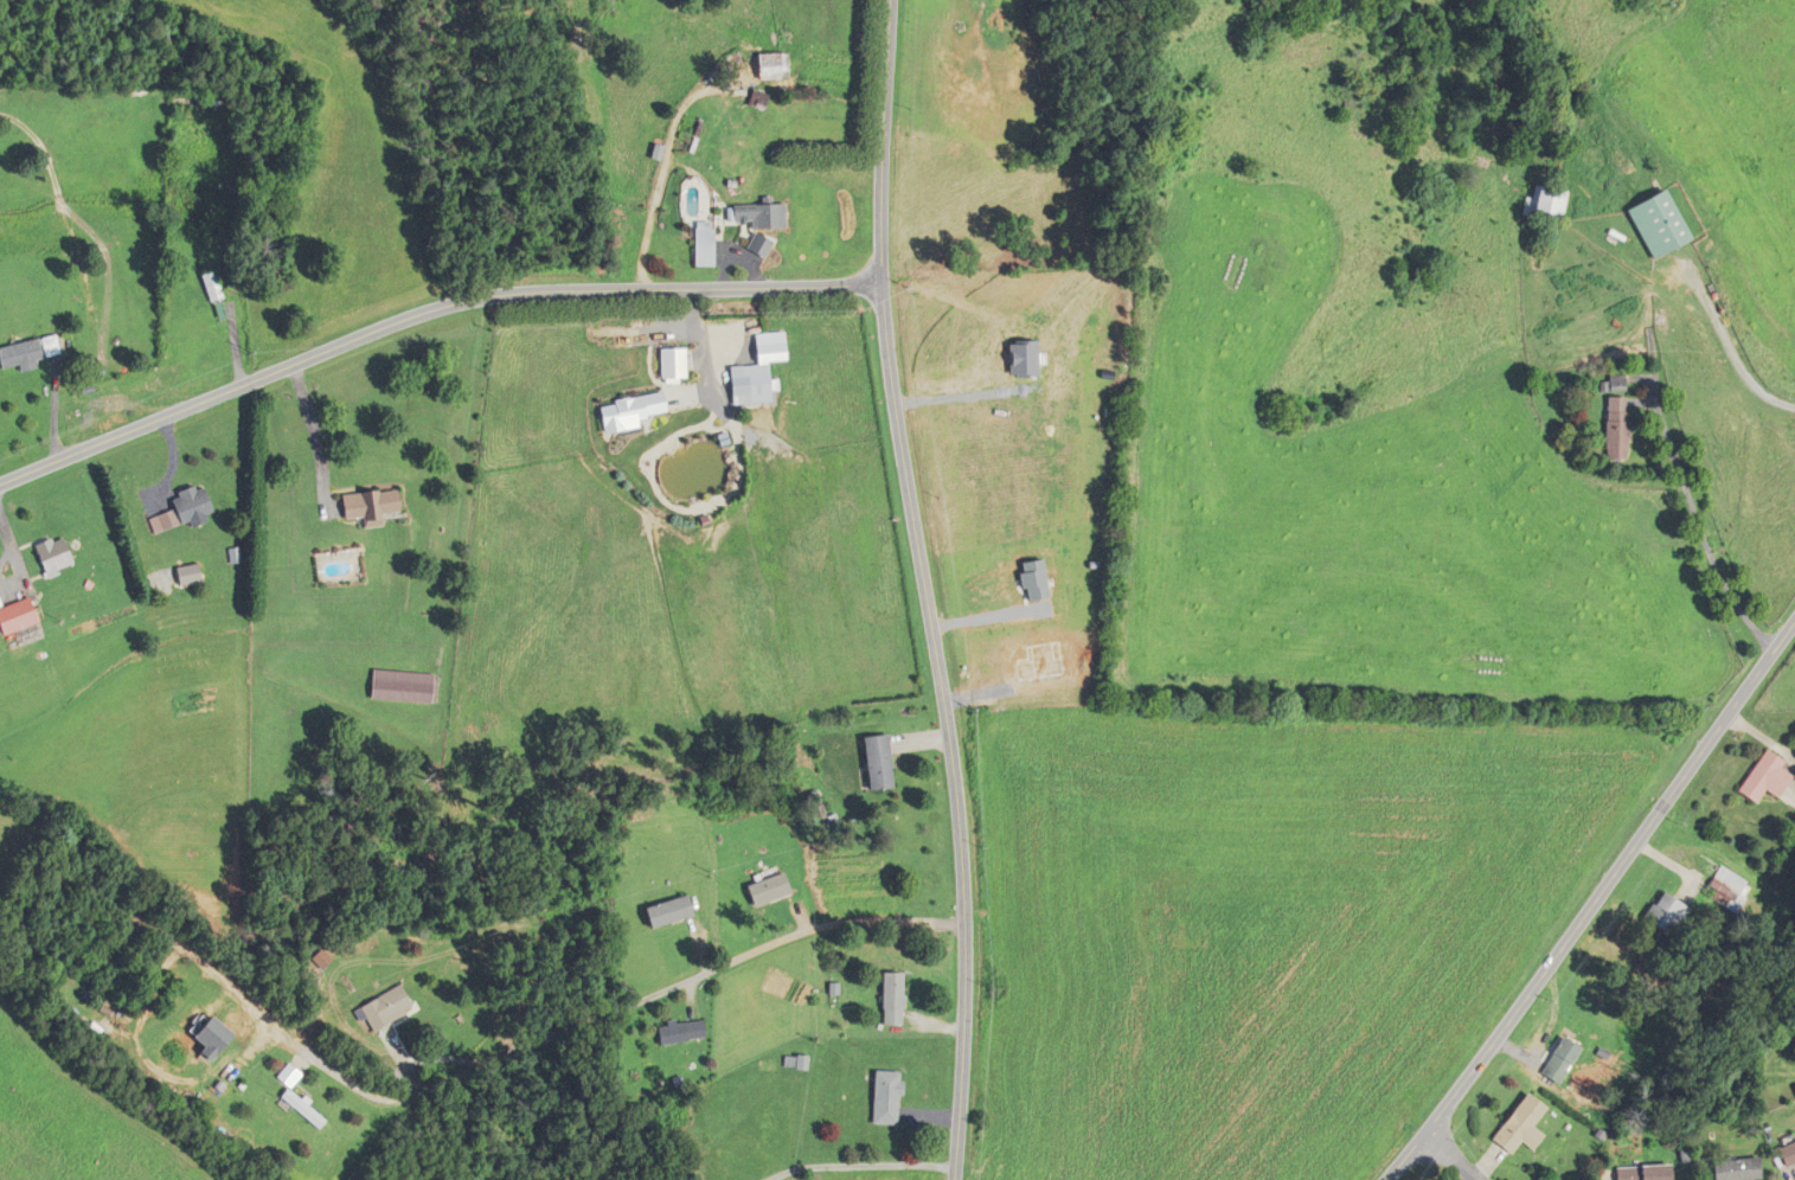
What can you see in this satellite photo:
building: (774, 66)
road: (650, 182)
building: (1550, 204)
building: (761, 216)
building: (1655, 223)
building: (706, 249)
building: (207, 288)
road: (427, 313)
building: (24, 353)
road: (1724, 353)
building: (749, 385)
building: (1615, 428)
road: (459, 495)
building: (186, 505)
building: (365, 507)
road: (1693, 517)
building: (51, 557)
road: (927, 589)
building: (19, 626)
building: (398, 688)
building: (877, 762)
building: (1767, 777)
building: (769, 890)
building: (1730, 891)
road: (1595, 908)
building: (667, 912)
building: (1663, 912)
road: (682, 985)
building: (891, 999)
building: (384, 1009)
building: (679, 1033)
road: (306, 1054)
building: (1562, 1058)
building: (282, 1076)
building: (883, 1097)
building: (296, 1109)
building: (1521, 1126)
building: (1787, 1153)
road: (1456, 1156)
road: (863, 1165)
building: (1737, 1169)
building: (1645, 1172)

